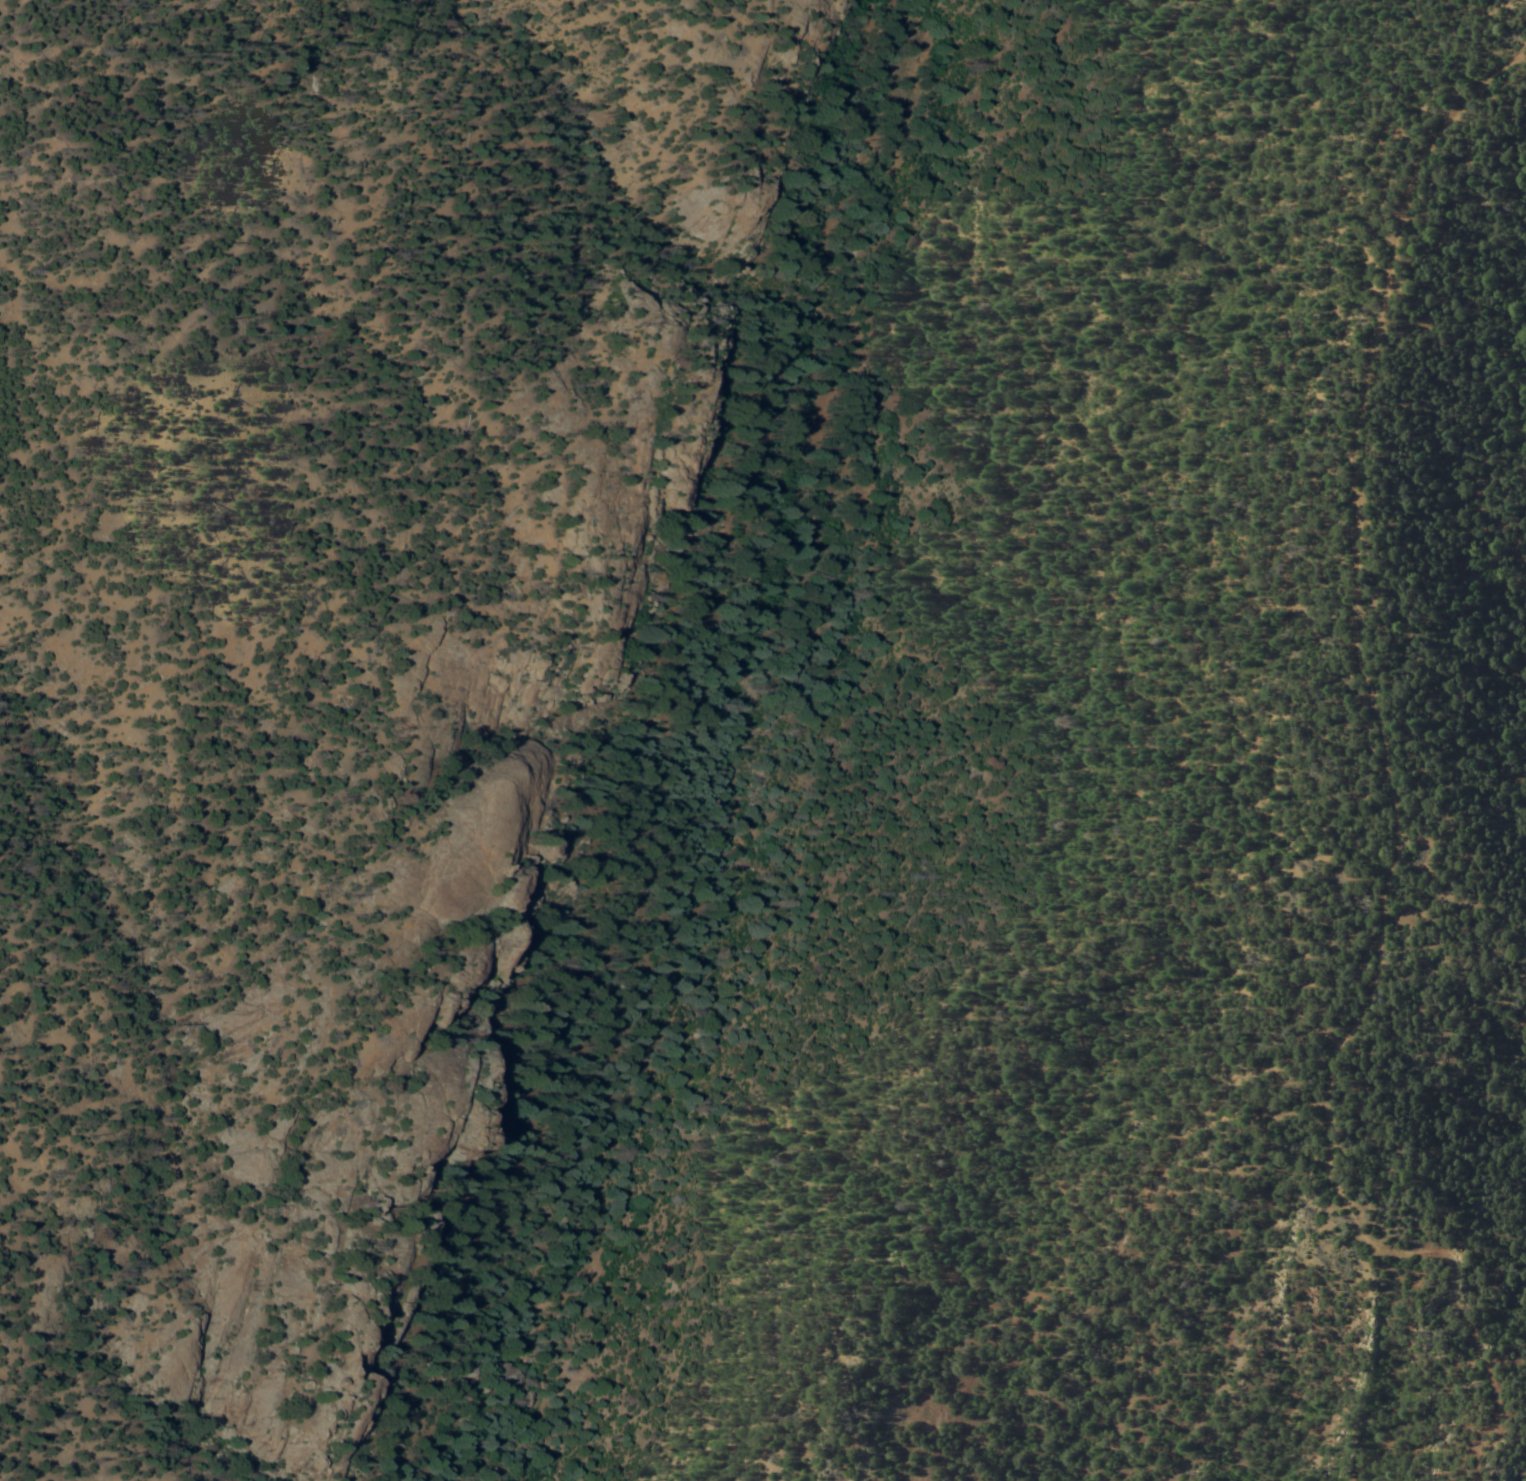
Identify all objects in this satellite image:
road: (1382, 786)

